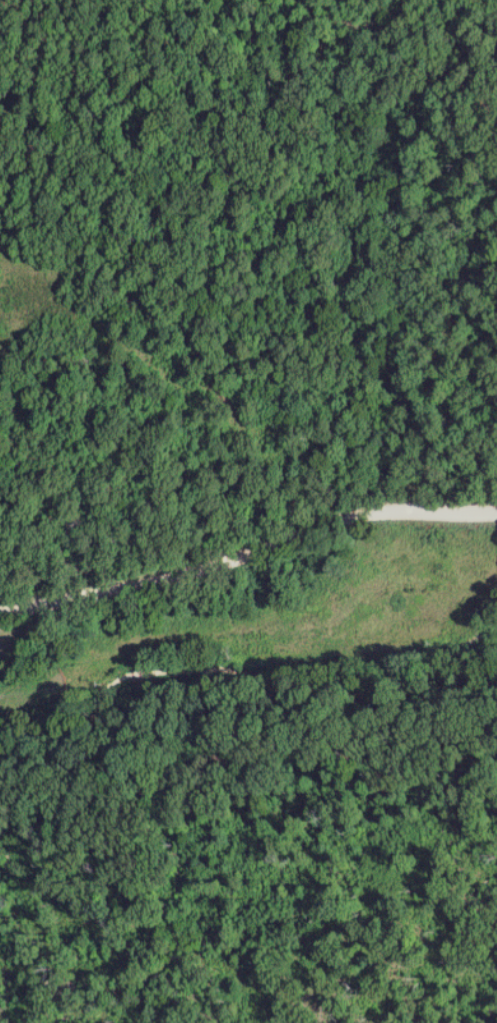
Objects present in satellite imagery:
road: (247, 548)
road: (391, 769)

